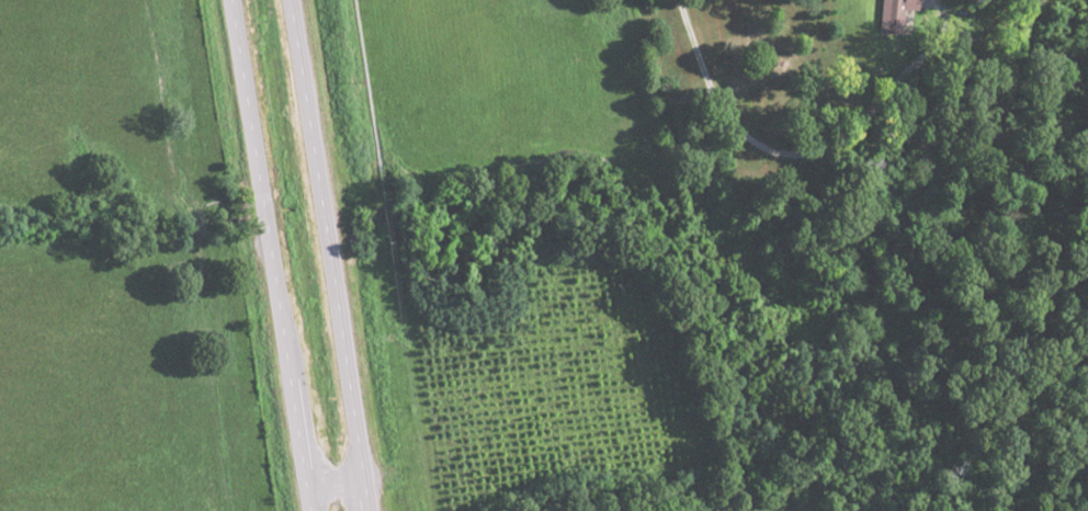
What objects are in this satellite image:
road: (272, 254)
road: (331, 254)
road: (337, 481)

